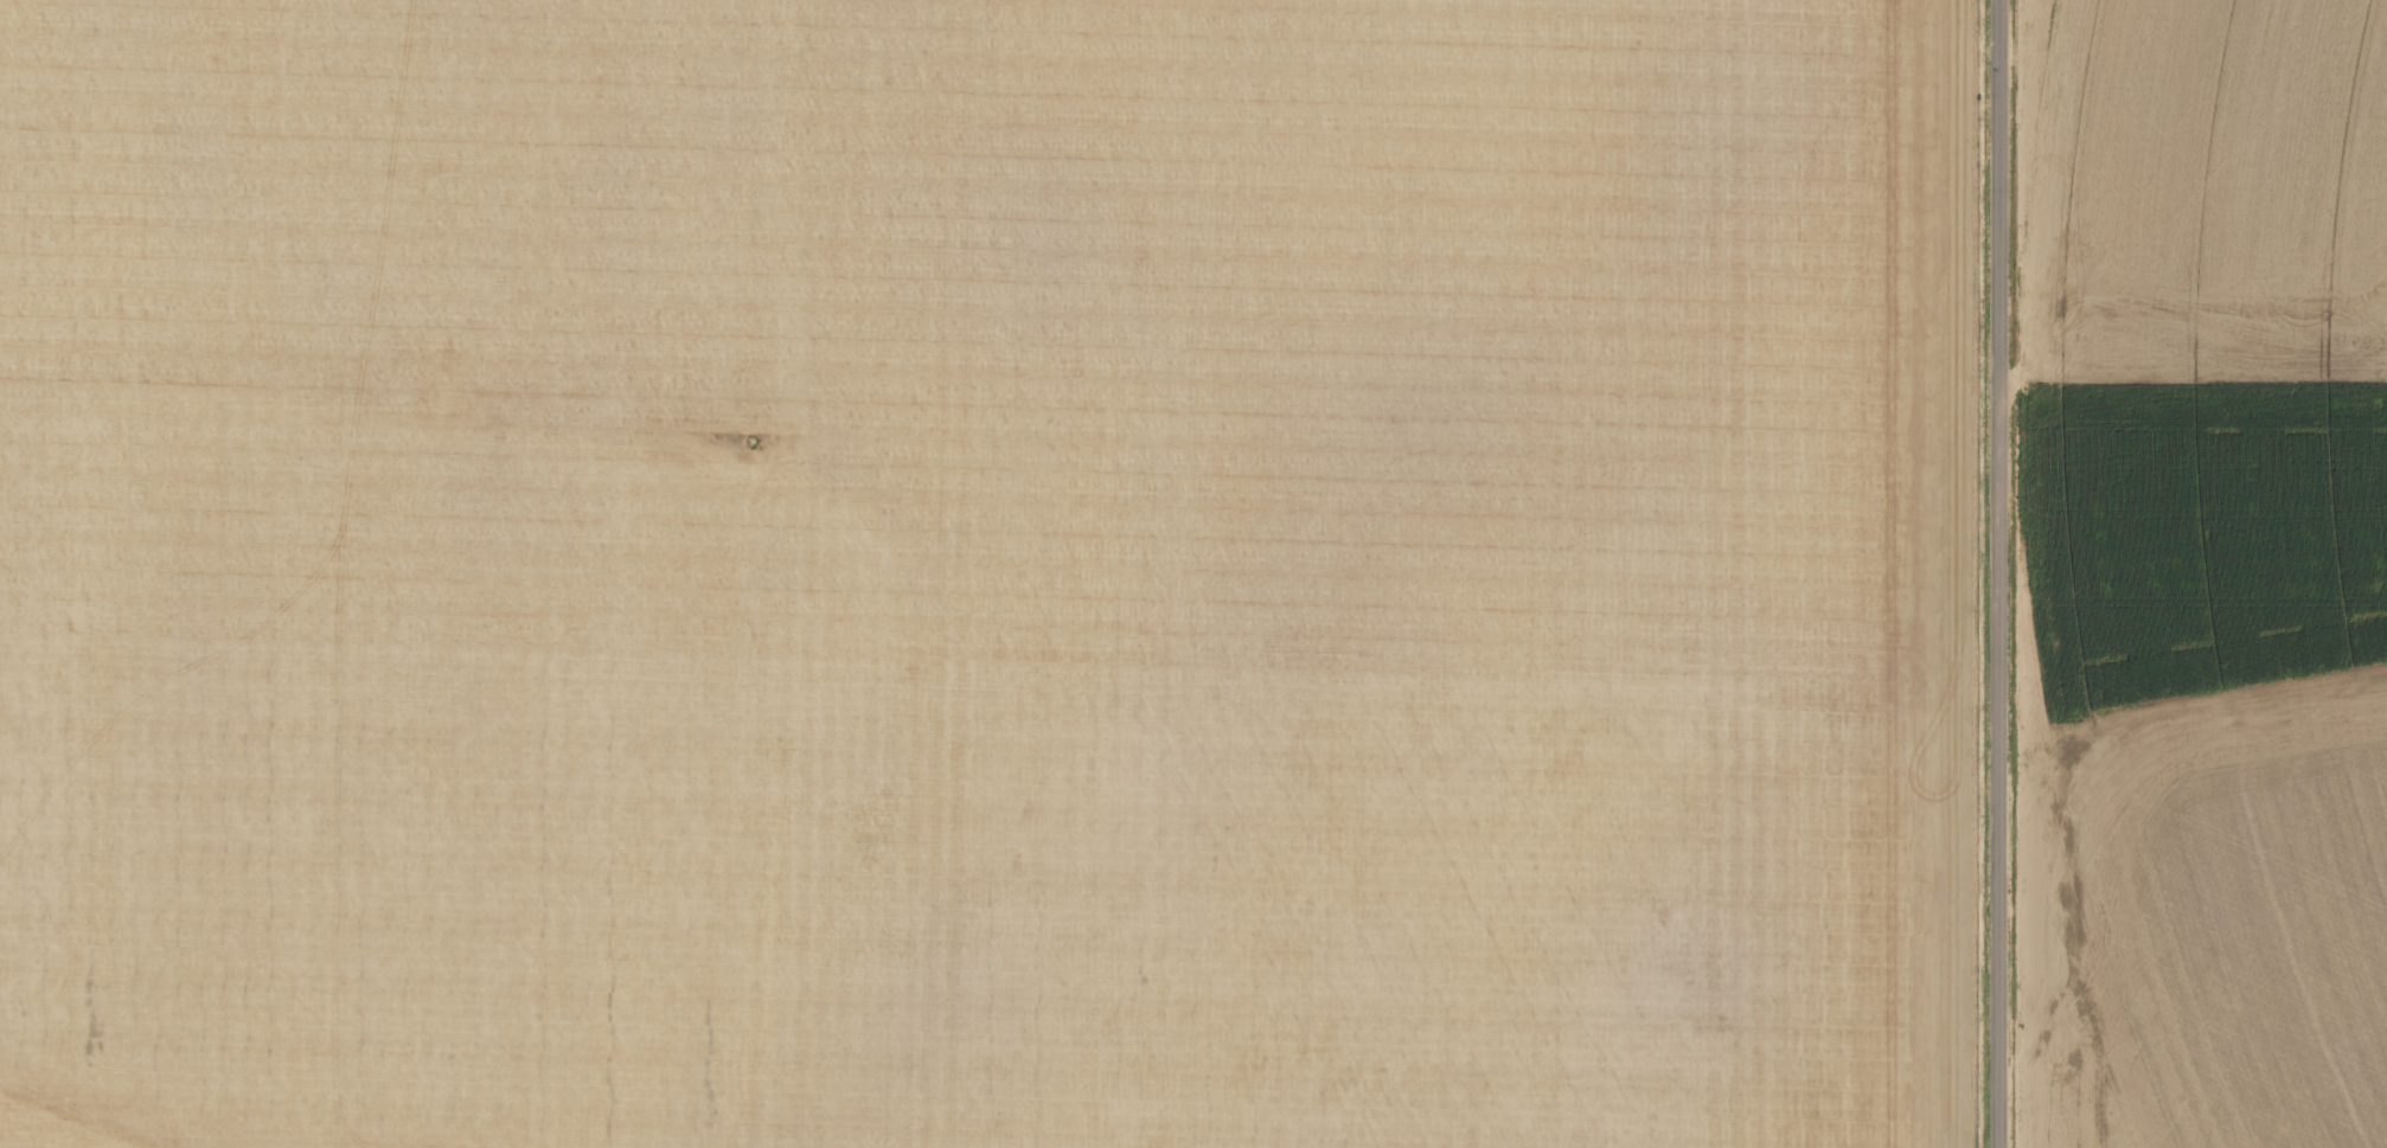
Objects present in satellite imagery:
road: (2002, 573)

